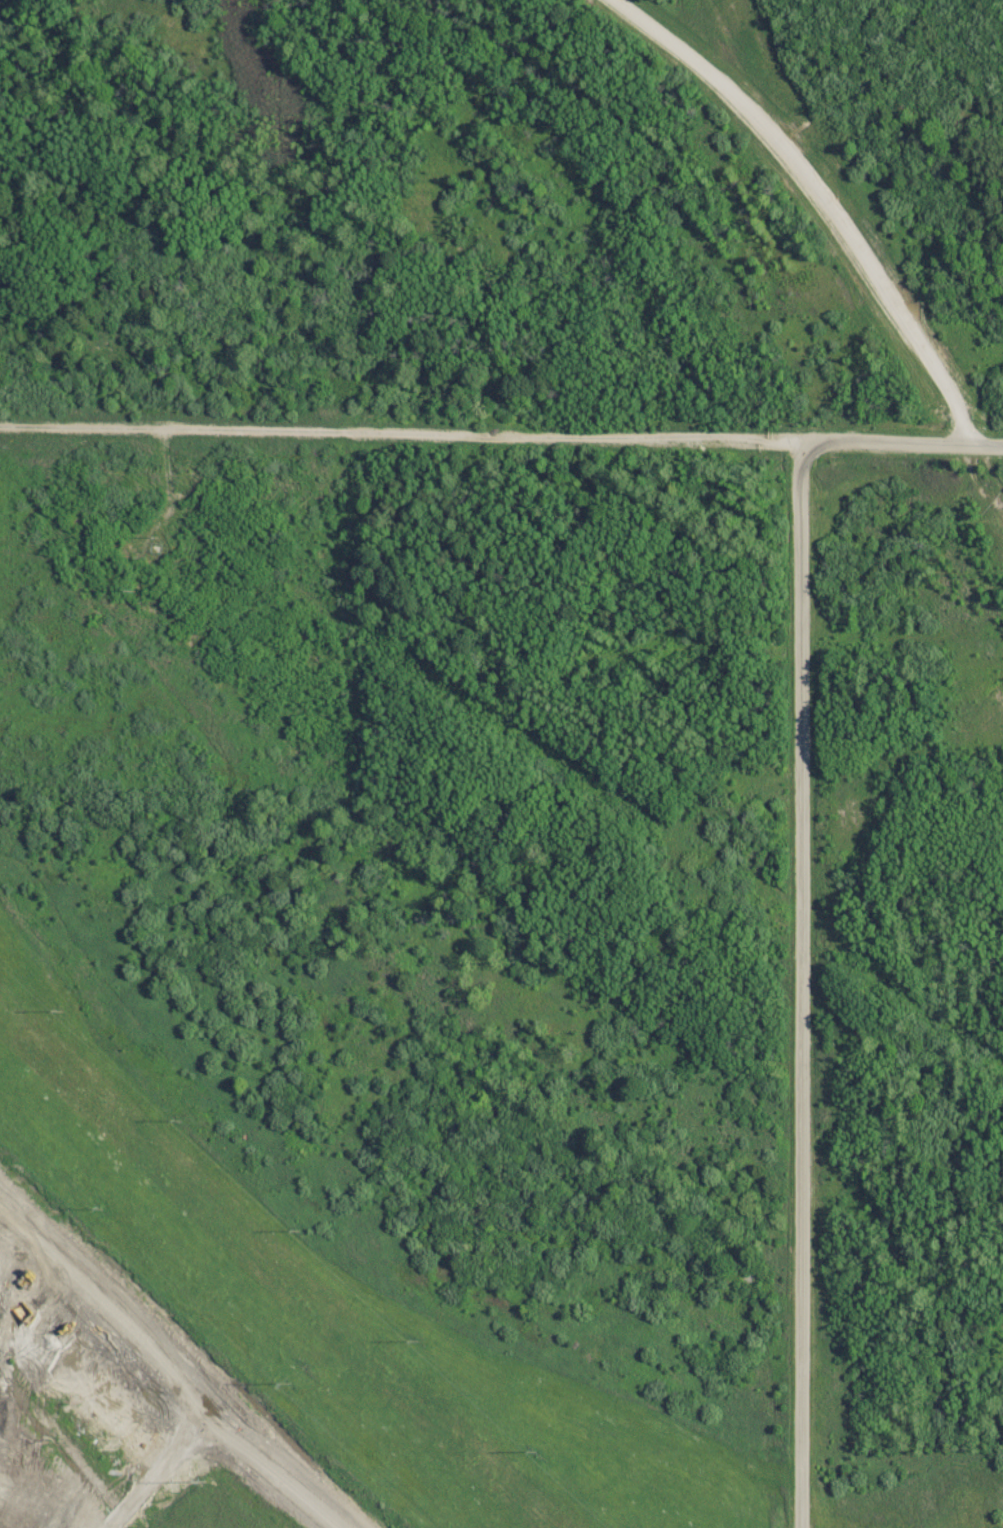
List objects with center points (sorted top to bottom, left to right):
road: (827, 202)
road: (501, 446)
road: (800, 990)
road: (172, 1377)
quarry: (105, 1424)

